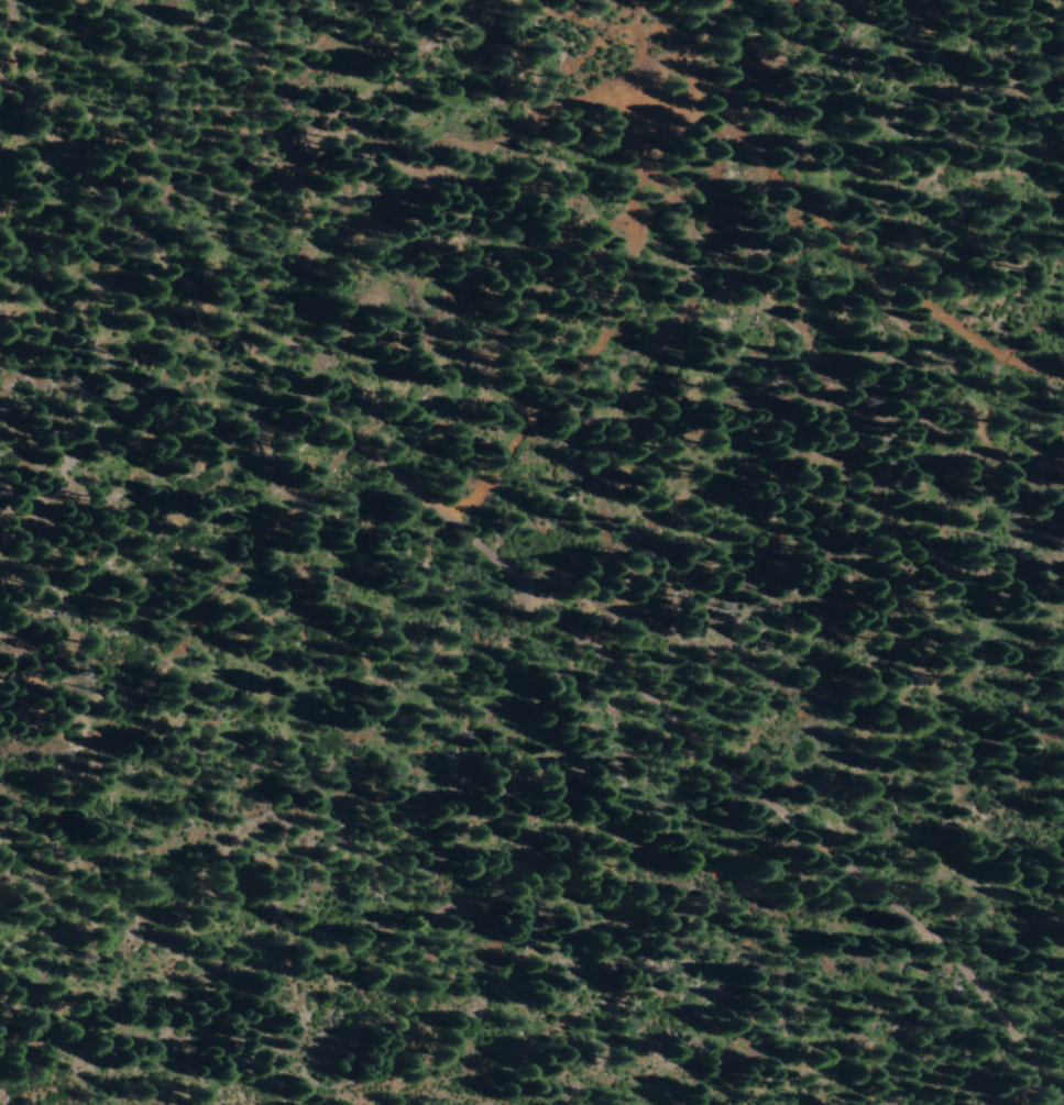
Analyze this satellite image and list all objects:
road: (534, 583)

